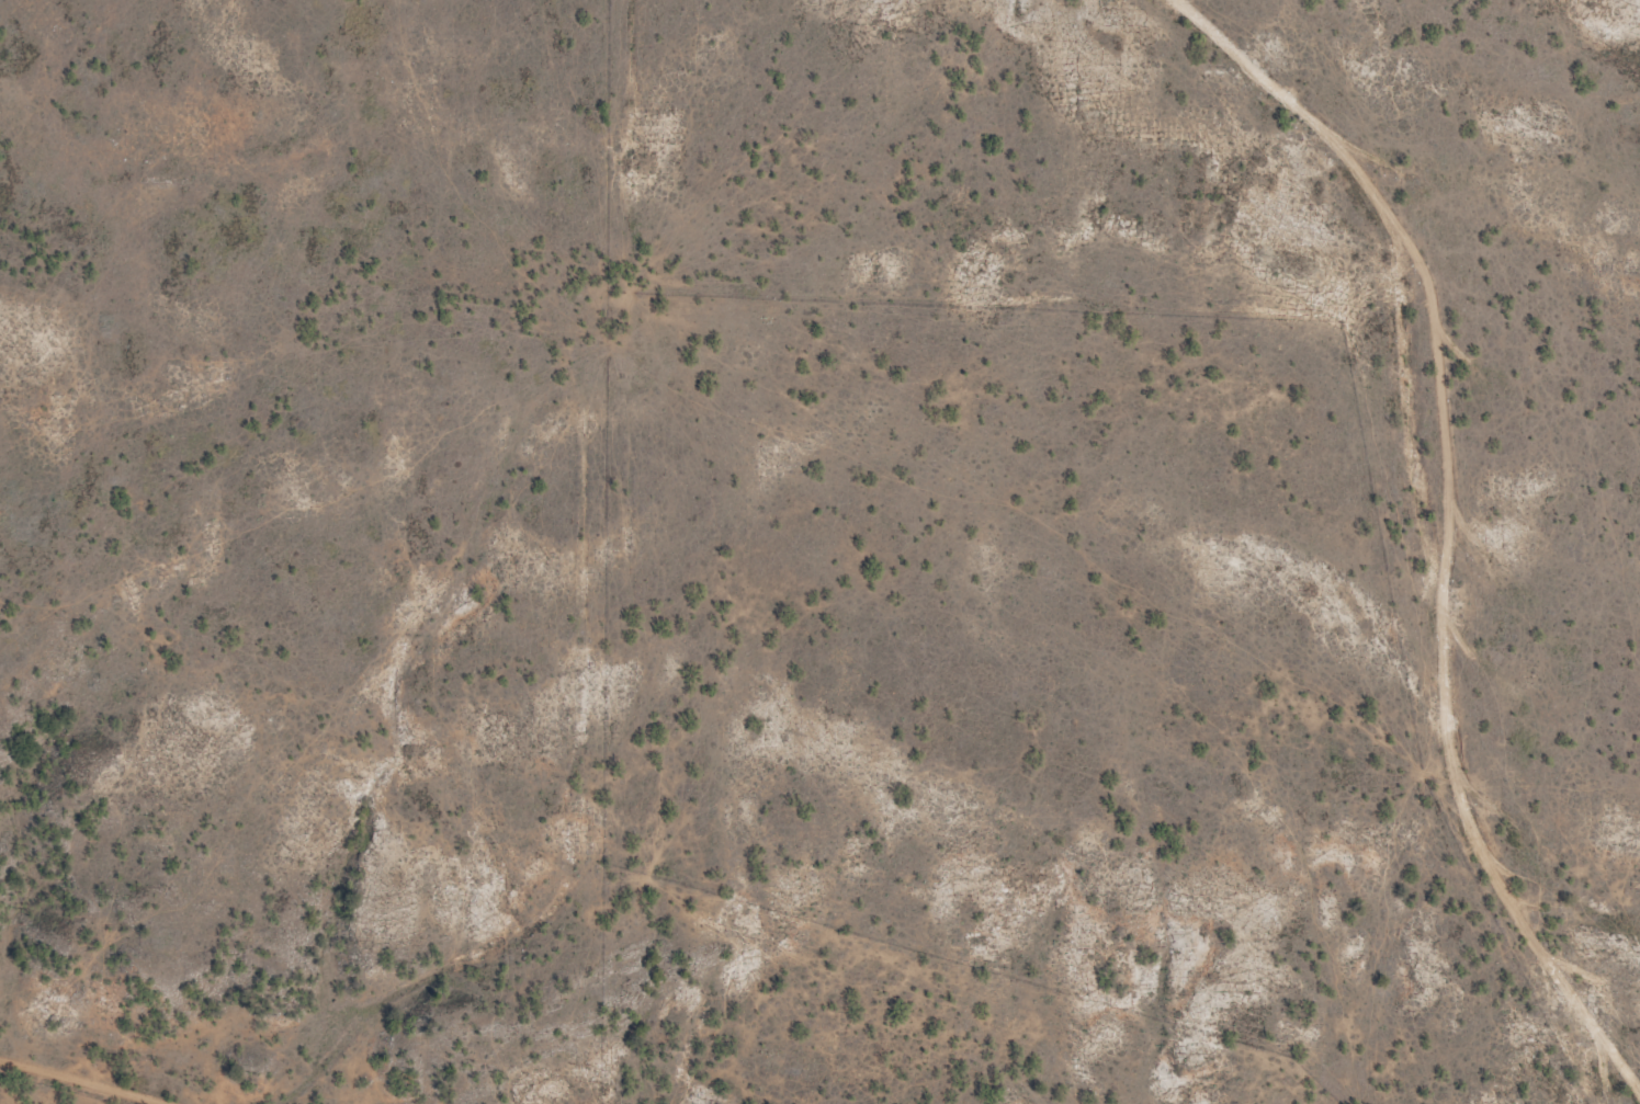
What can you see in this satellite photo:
road: (623, 145)
road: (474, 180)
road: (1005, 307)
road: (1410, 545)
road: (653, 716)

